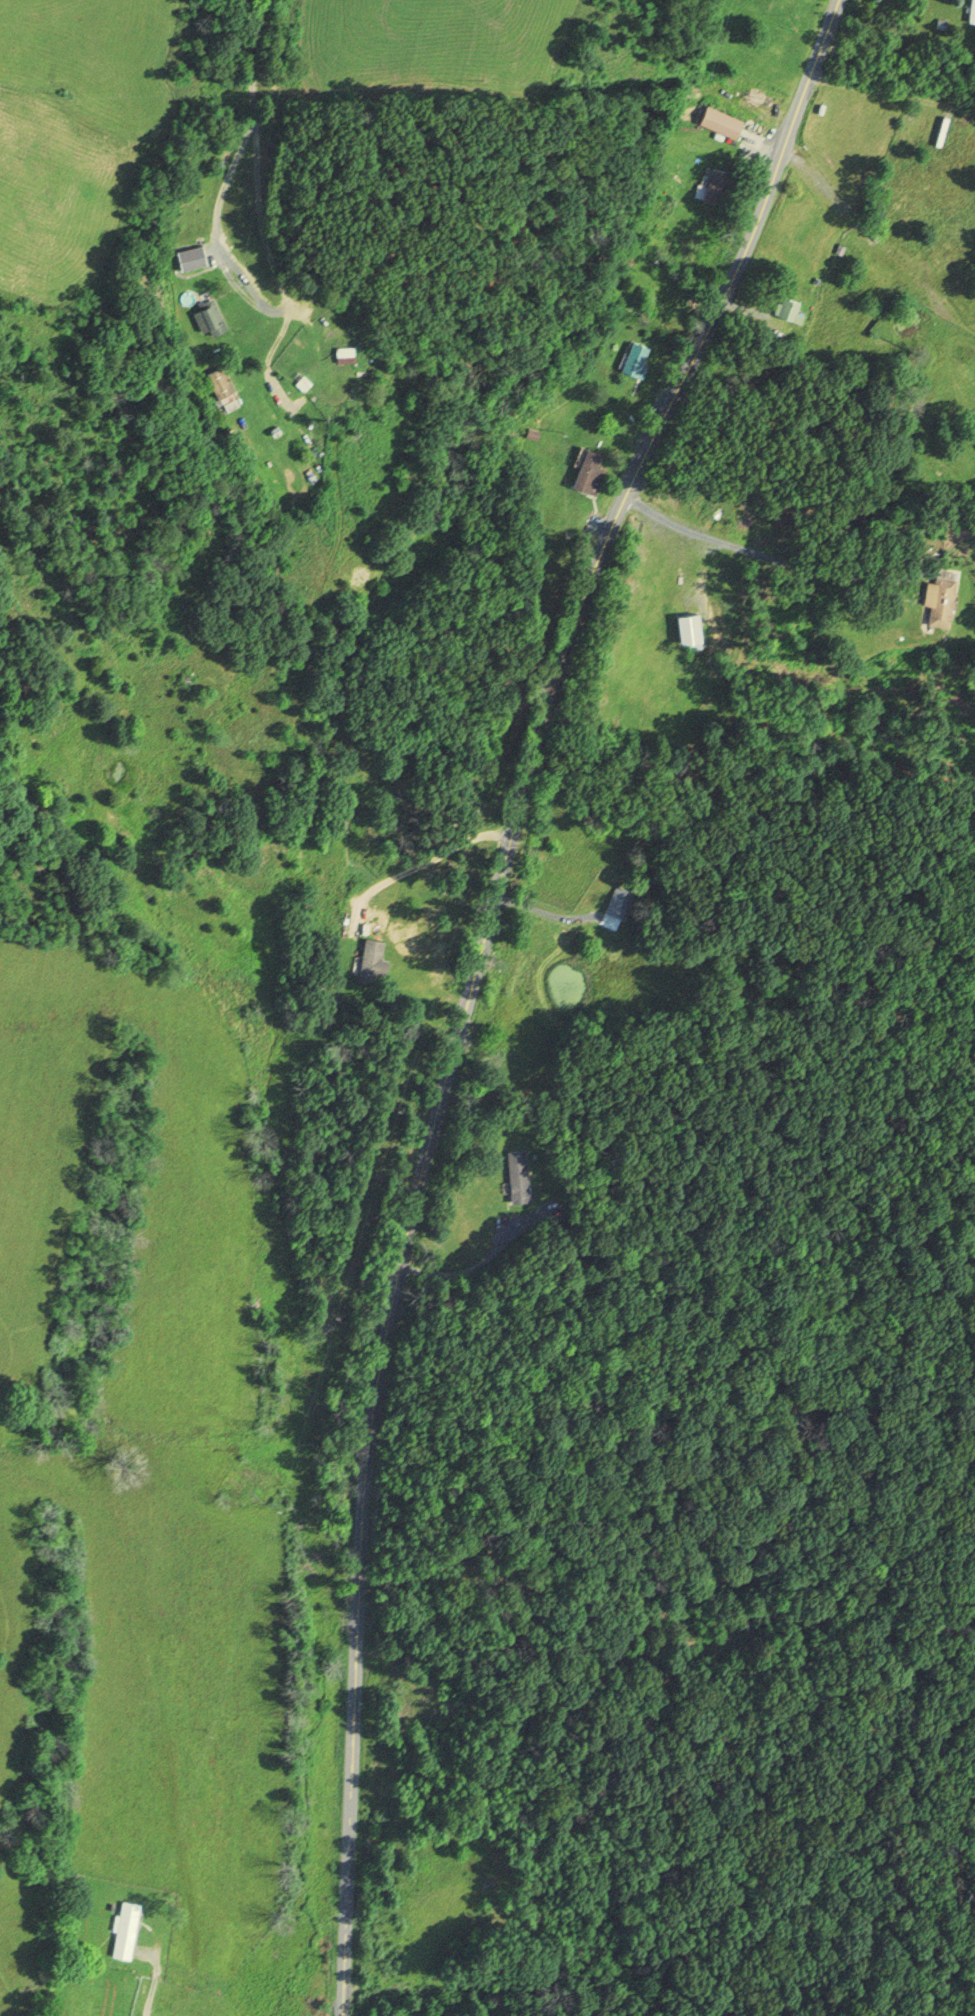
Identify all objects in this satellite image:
building: (972, 11)
road: (244, 117)
building: (725, 122)
building: (945, 130)
building: (717, 185)
building: (790, 308)
building: (212, 318)
building: (349, 354)
building: (637, 357)
building: (224, 383)
building: (591, 471)
building: (695, 630)
building: (618, 898)
building: (374, 958)
road: (475, 981)
building: (521, 1174)
building: (128, 1929)

